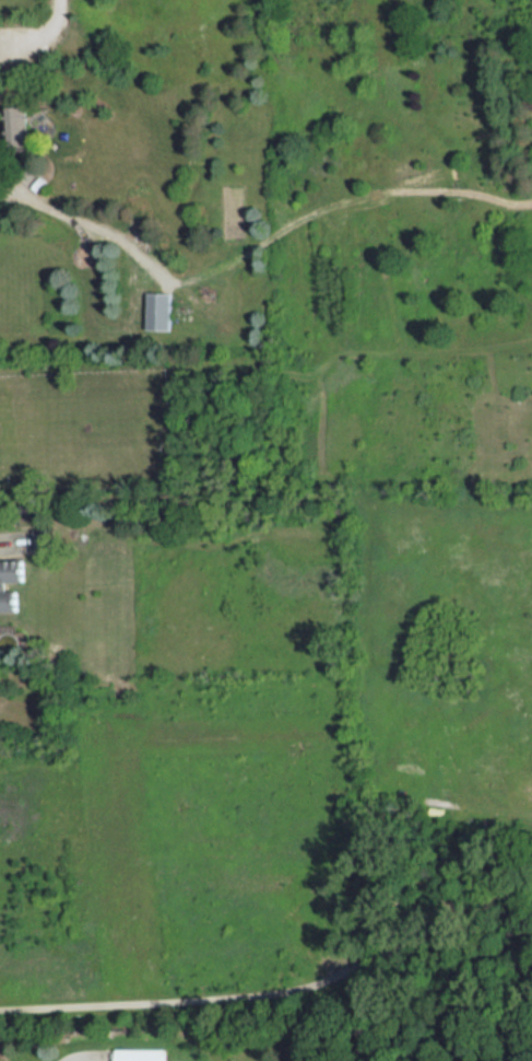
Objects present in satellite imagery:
road: (40, 34)
building: (12, 124)
road: (88, 223)
building: (156, 312)
building: (43, 536)
building: (7, 585)
road: (281, 992)
building: (134, 1054)

